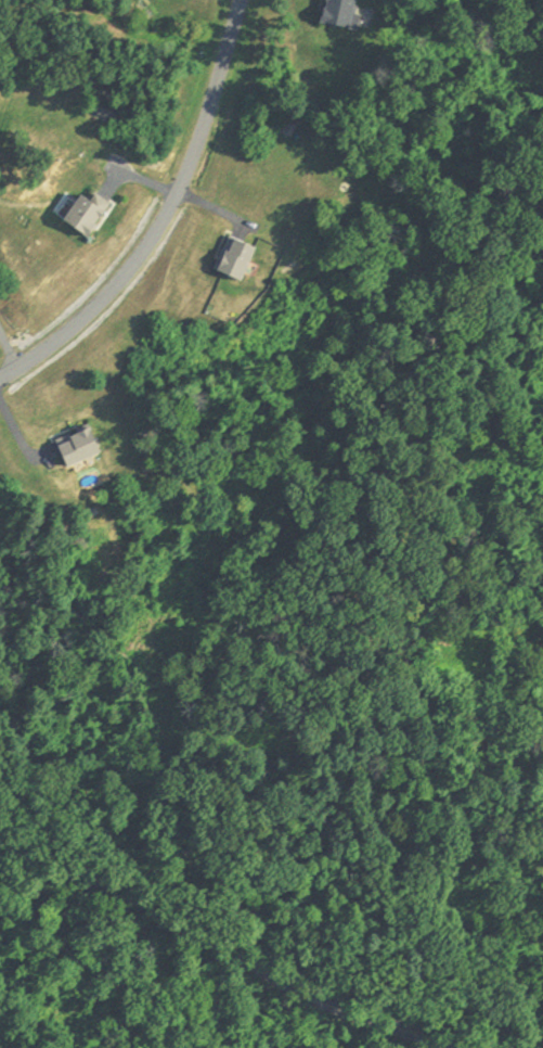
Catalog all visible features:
building: (340, 14)
building: (83, 215)
road: (163, 217)
building: (234, 258)
road: (8, 349)
building: (77, 448)
building: (458, 653)
road: (215, 946)

